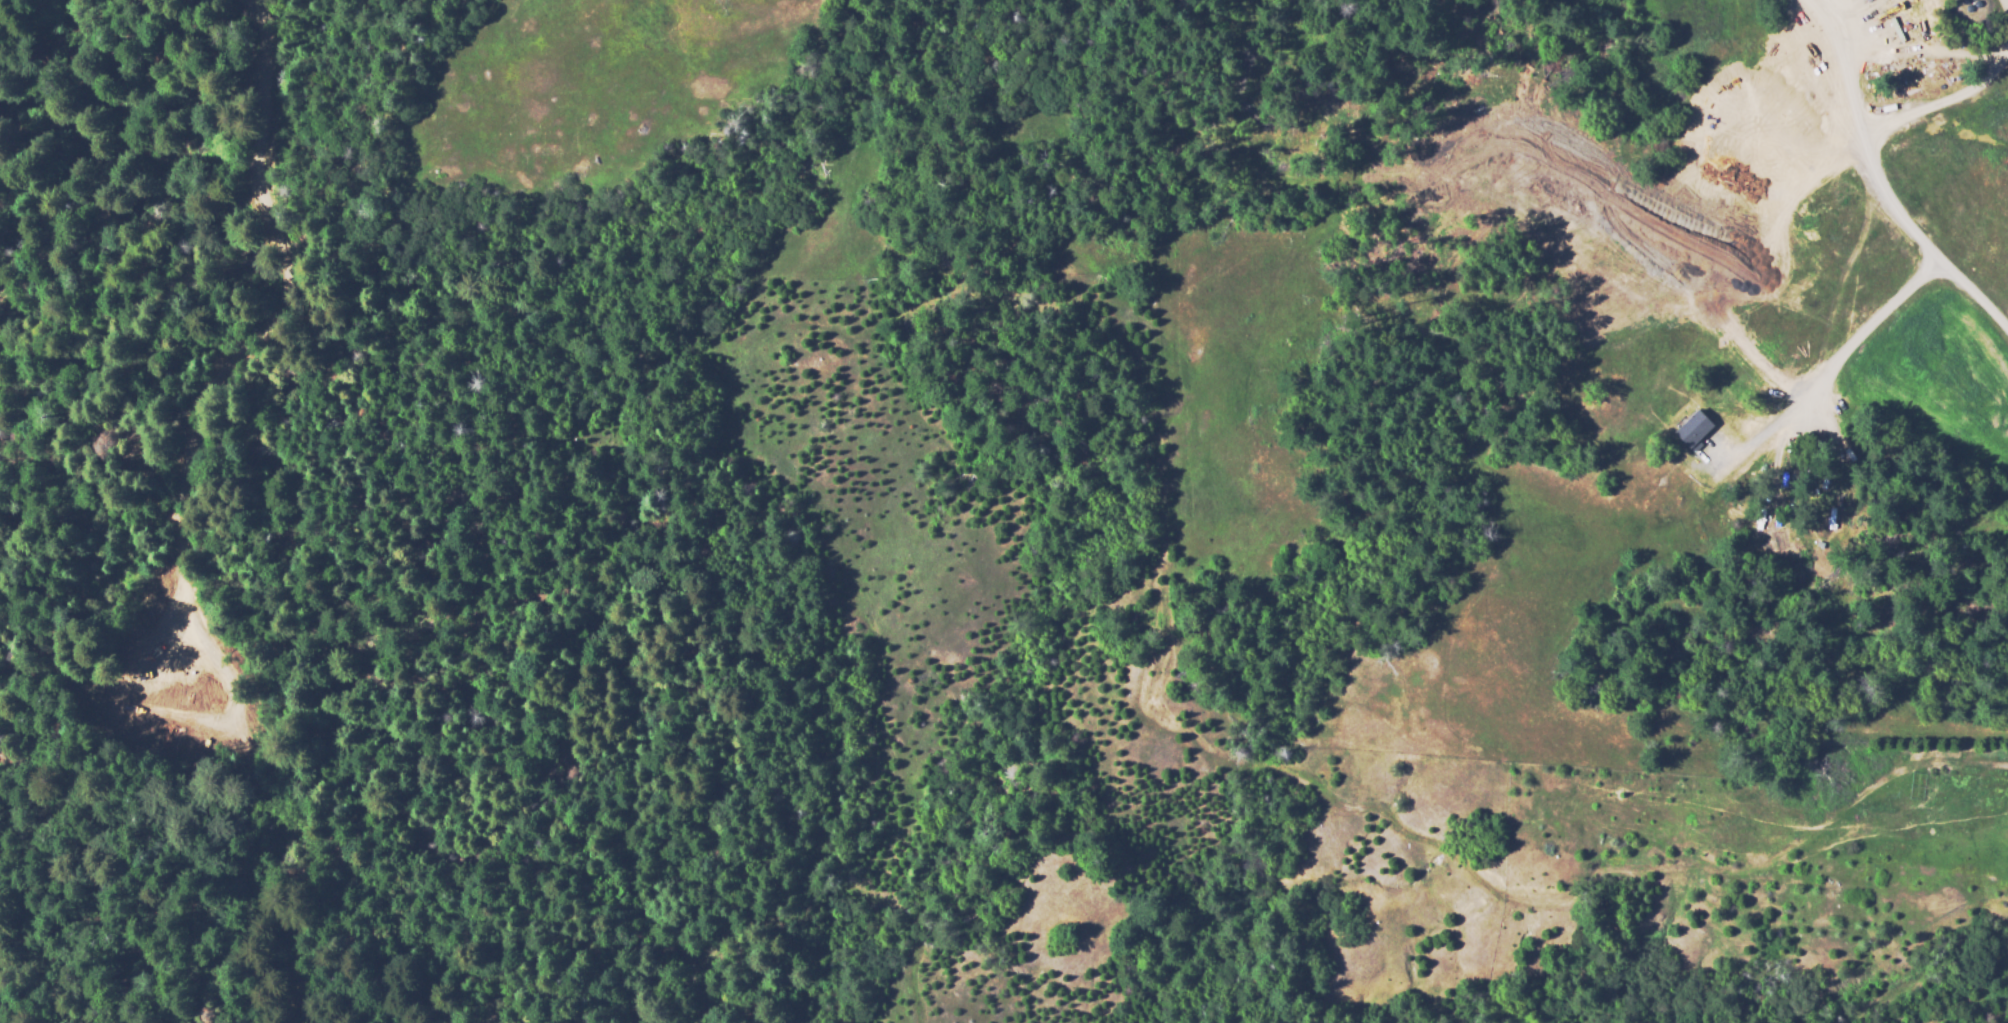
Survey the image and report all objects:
road: (1814, 11)
building: (1889, 106)
road: (1877, 185)
road: (1925, 263)
road: (1829, 364)
building: (1691, 429)

